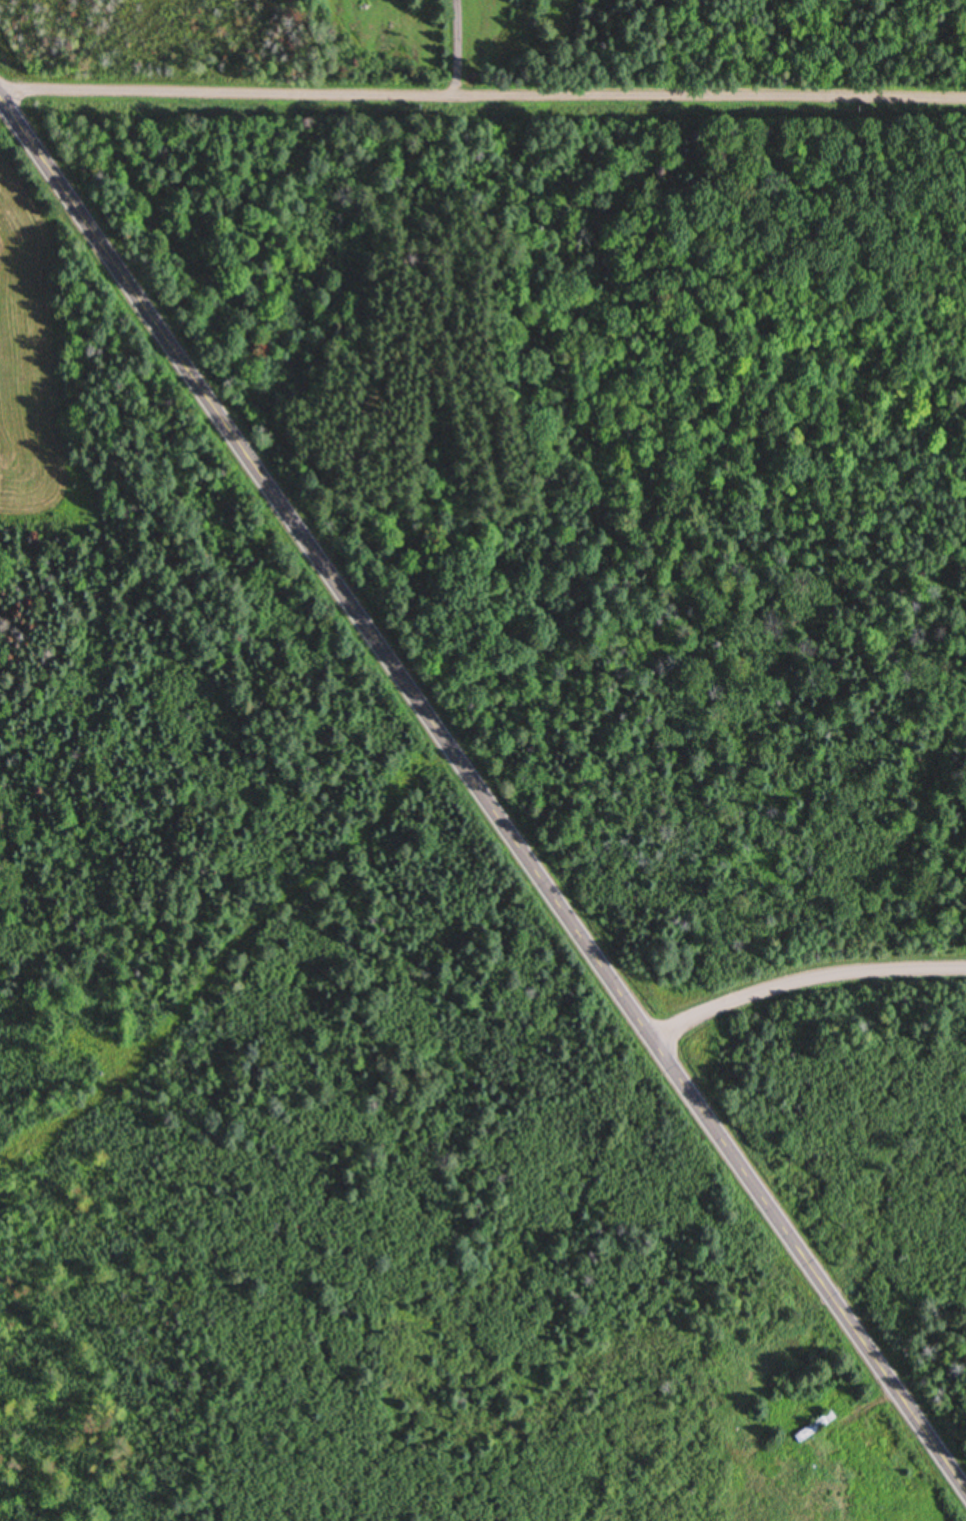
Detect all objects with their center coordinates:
road: (483, 92)
road: (484, 787)
road: (807, 981)
building: (814, 1427)

